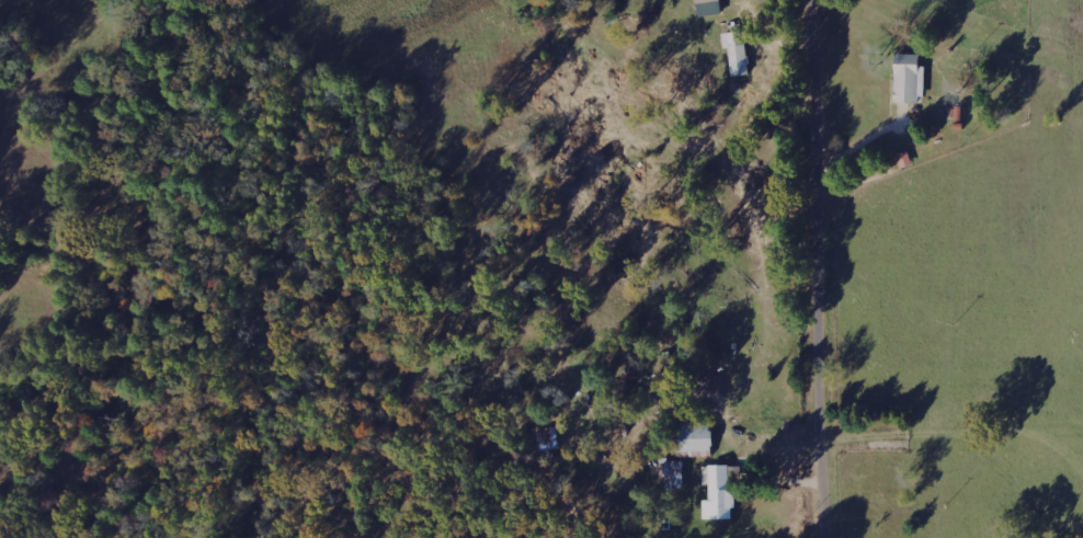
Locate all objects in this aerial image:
building: (706, 7)
building: (734, 50)
building: (907, 78)
road: (828, 268)
building: (691, 436)
building: (547, 438)
building: (716, 491)

